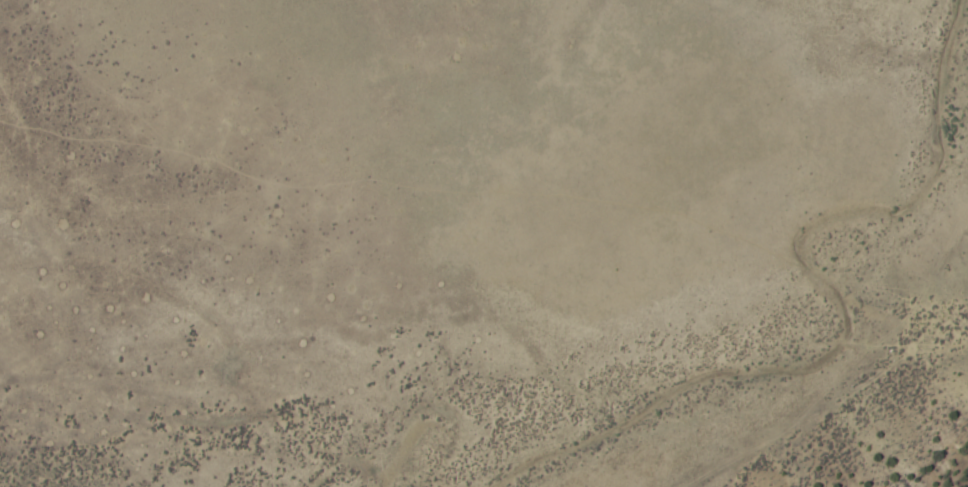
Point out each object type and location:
road: (867, 358)

